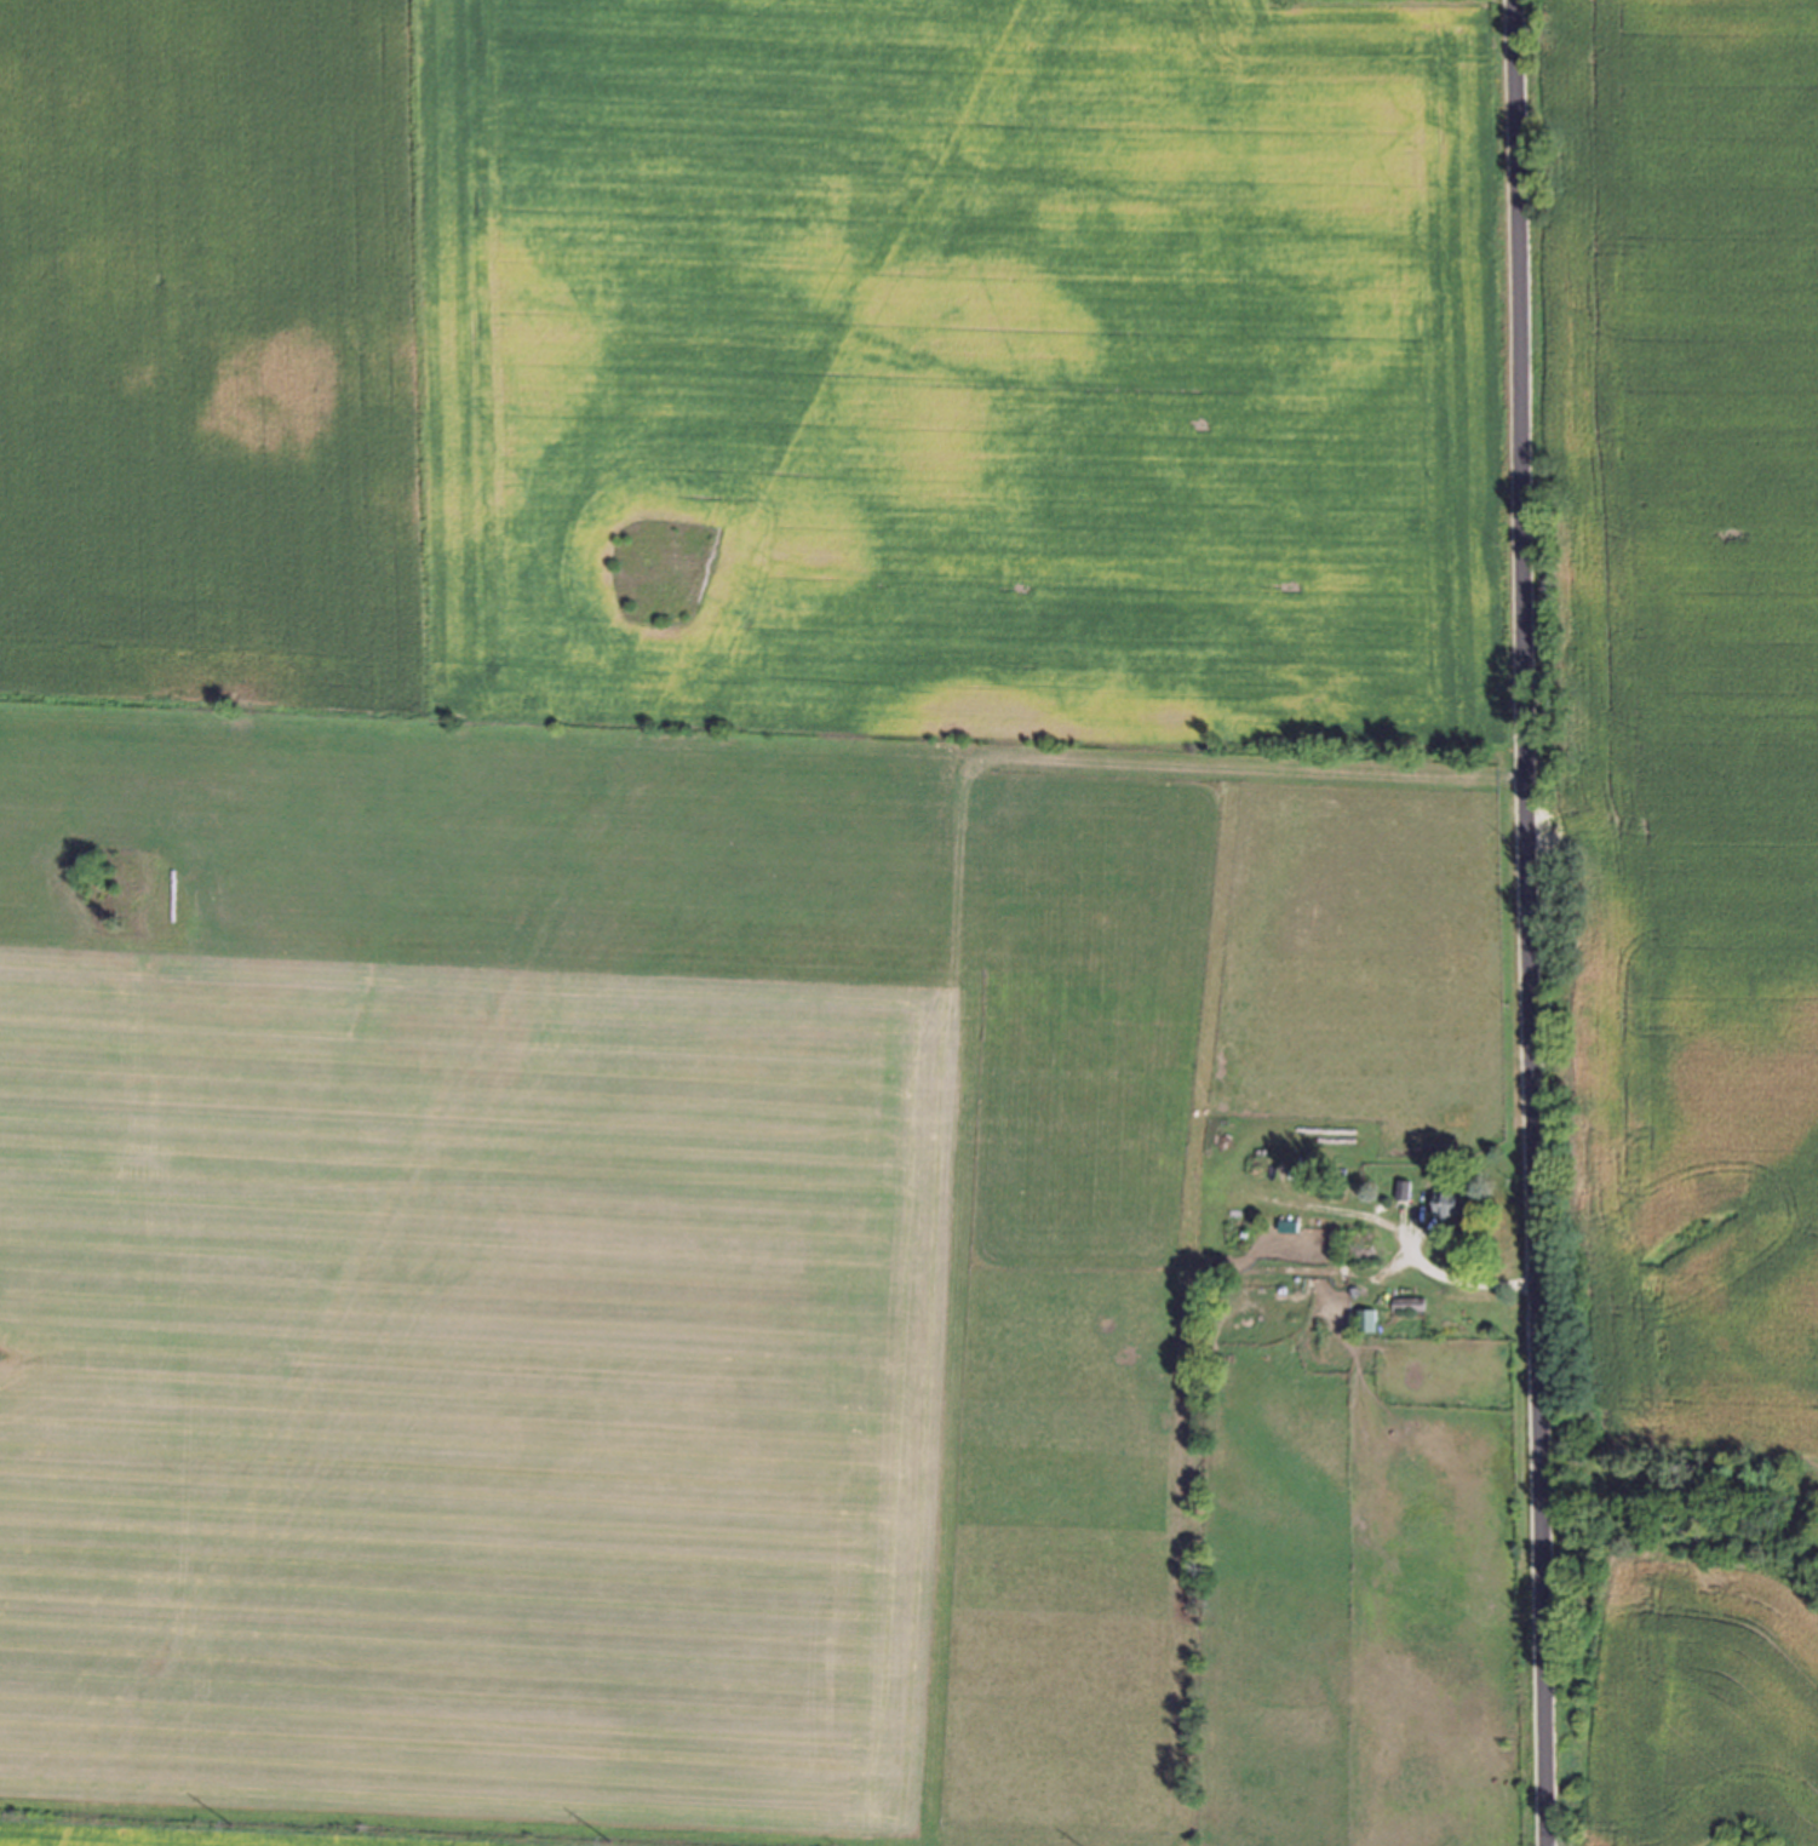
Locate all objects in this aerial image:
road: (1518, 923)
building: (1451, 1202)
building: (1411, 1303)
building: (1369, 1319)
power tower: (233, 1823)
power tower: (612, 1840)

